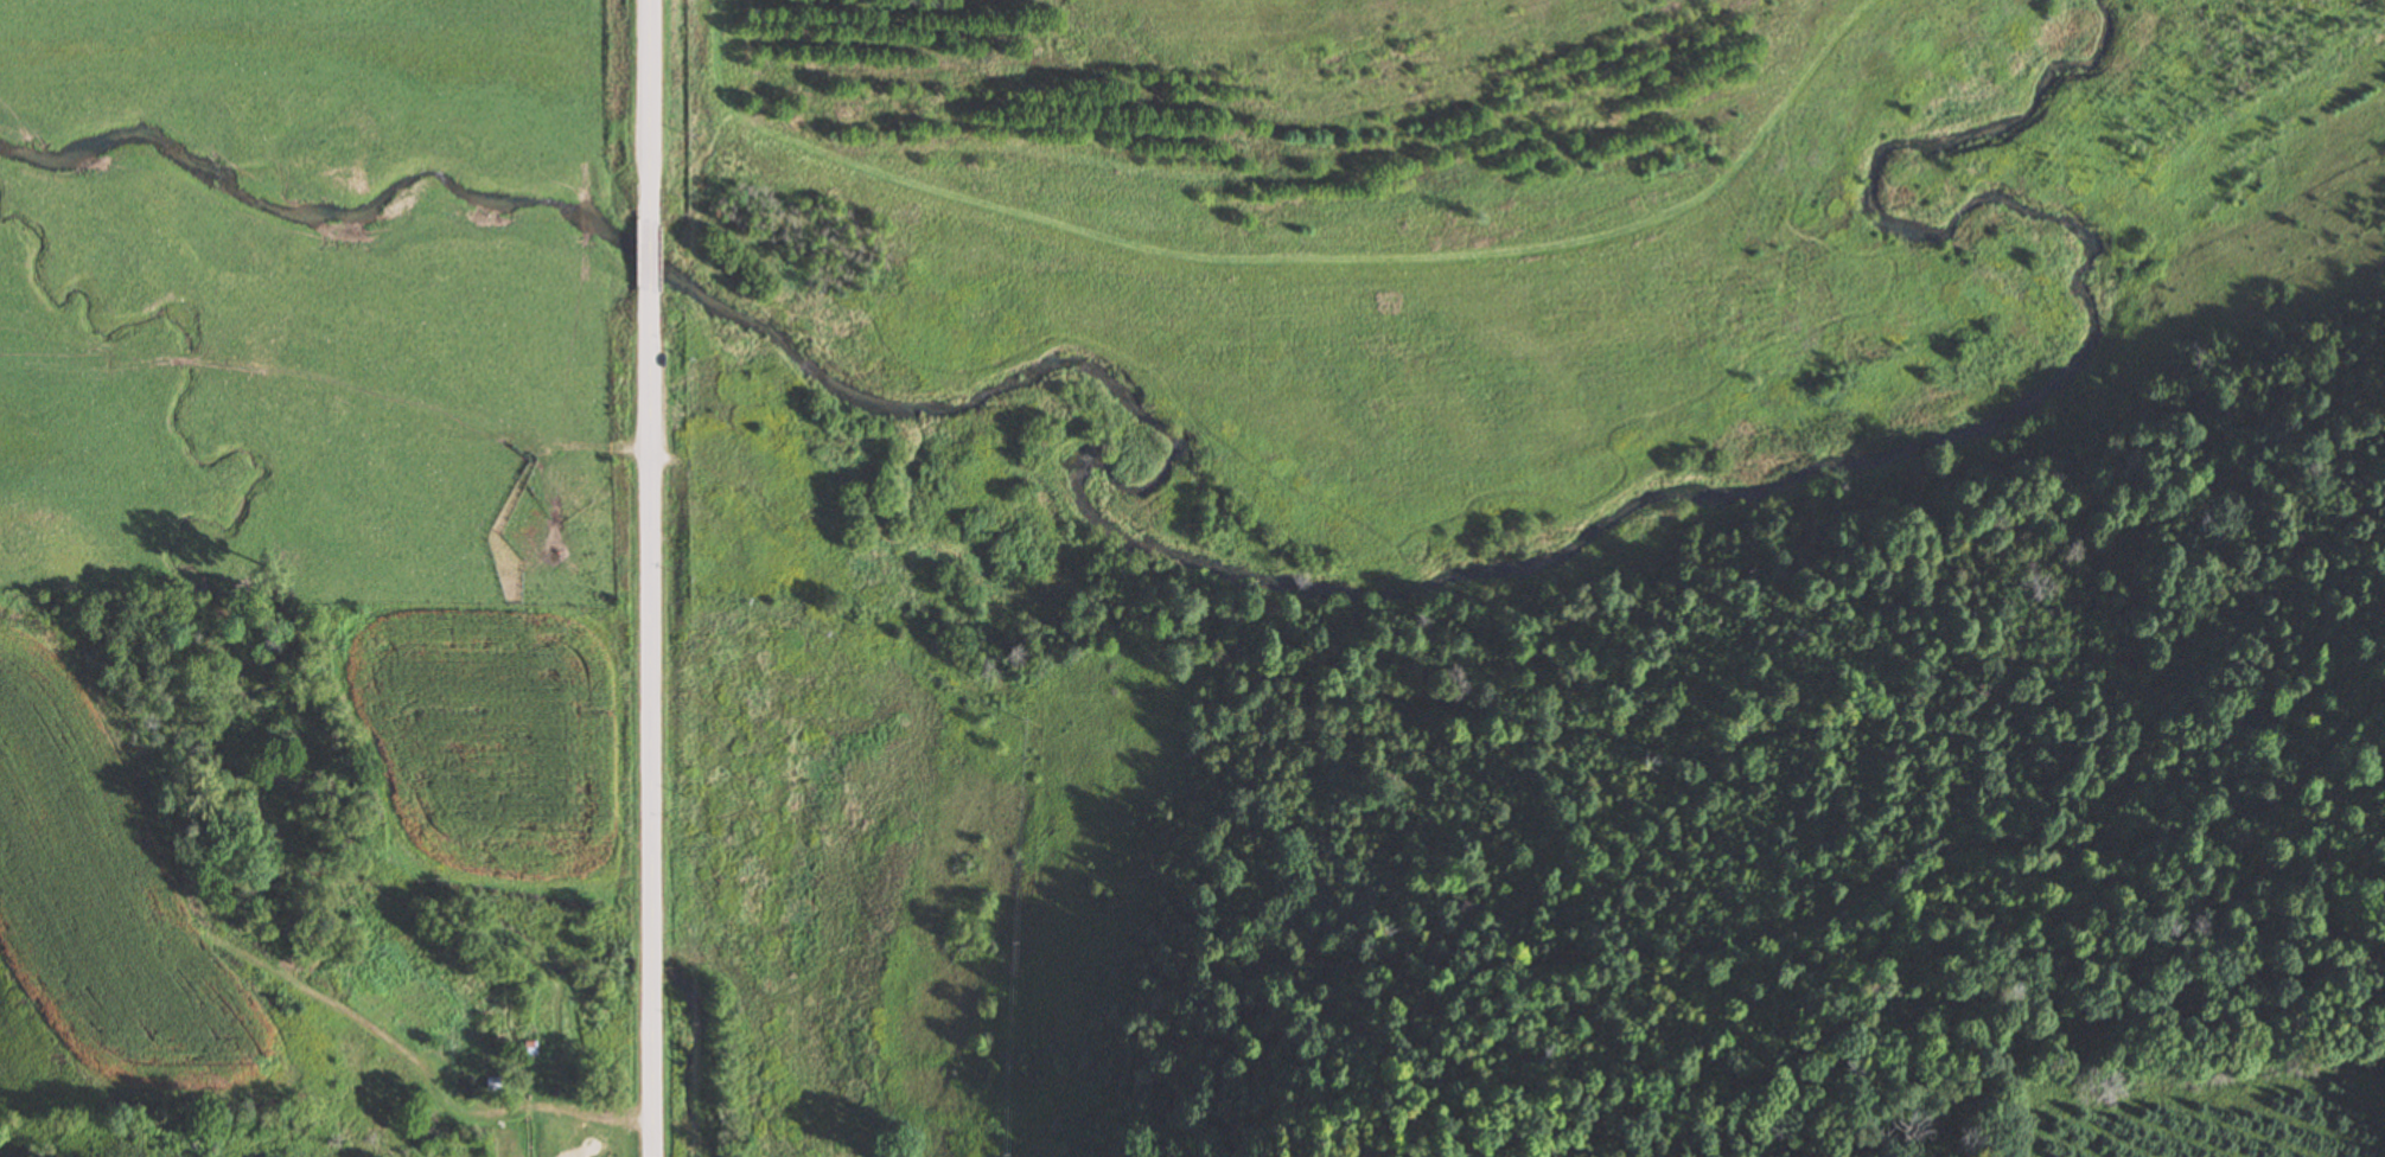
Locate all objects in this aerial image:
road: (651, 111)
road: (651, 256)
road: (650, 723)

